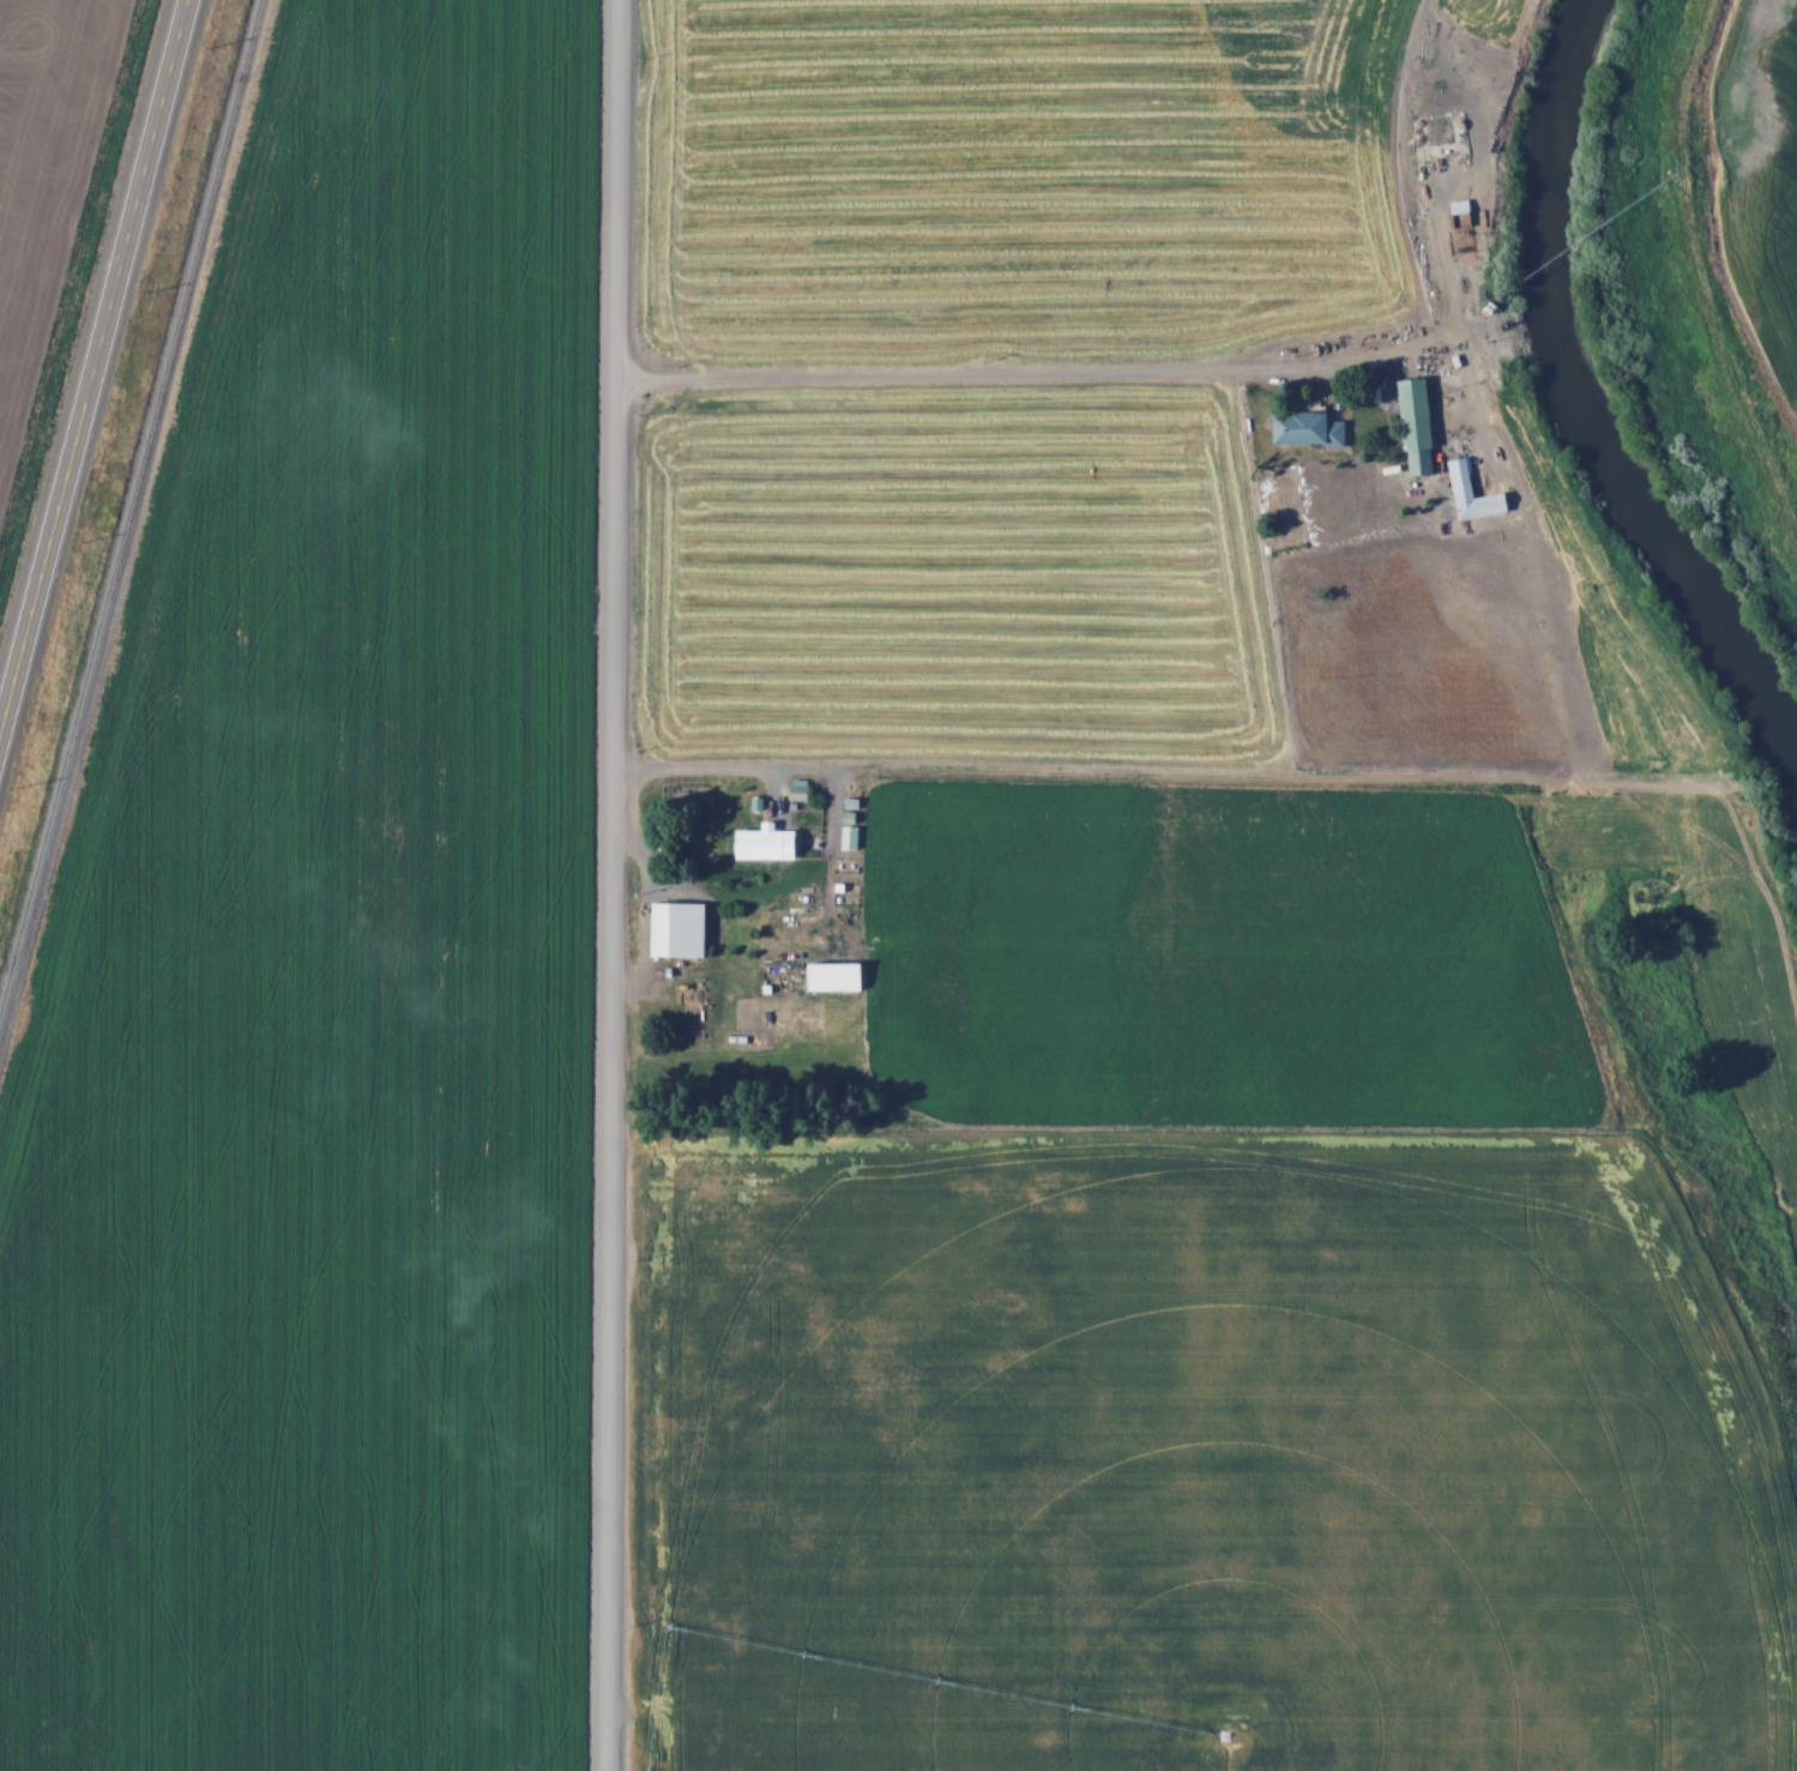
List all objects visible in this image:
building: (1458, 222)
road: (95, 368)
road: (1106, 371)
river: (1569, 411)
building: (1422, 424)
building: (1310, 426)
building: (1477, 492)
railway: (129, 508)
road: (1561, 676)
road: (1187, 773)
building: (771, 842)
road: (613, 885)
building: (685, 927)

